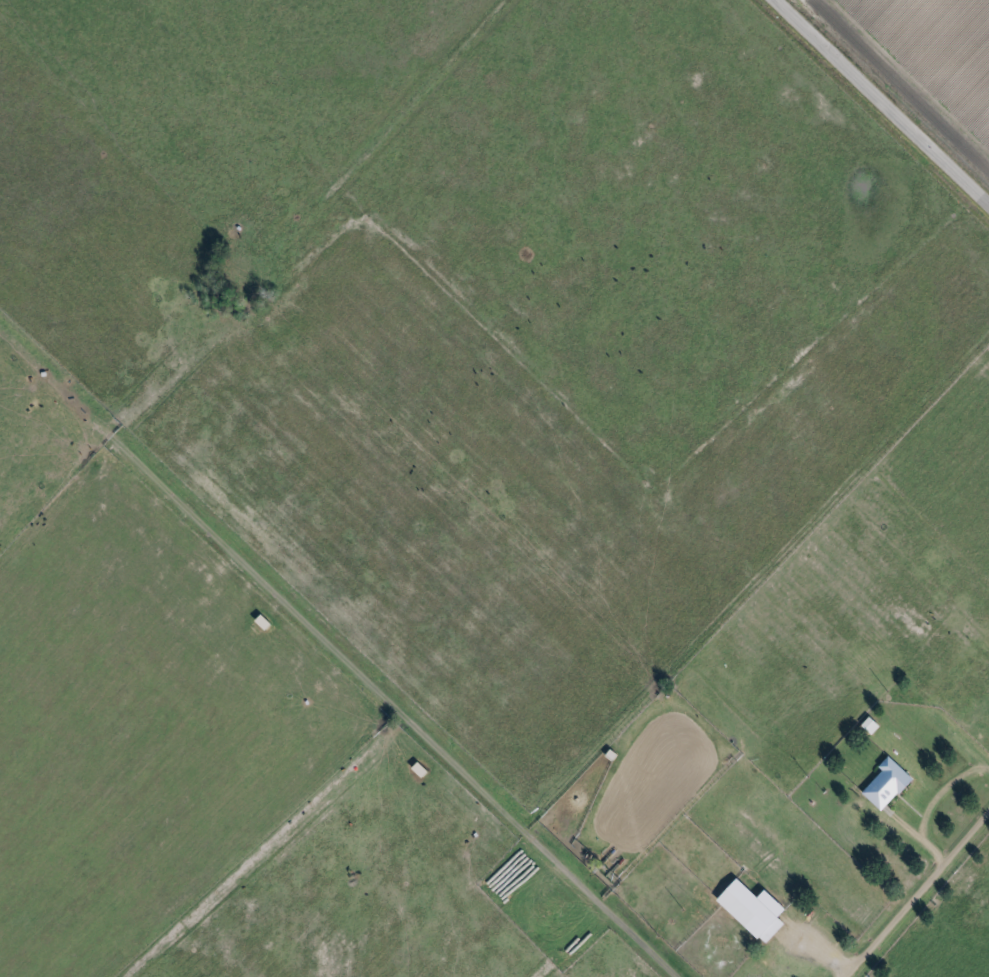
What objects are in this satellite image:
road: (884, 99)
road: (335, 651)
building: (888, 784)
road: (940, 792)
road: (916, 837)
road: (919, 894)
building: (753, 912)

